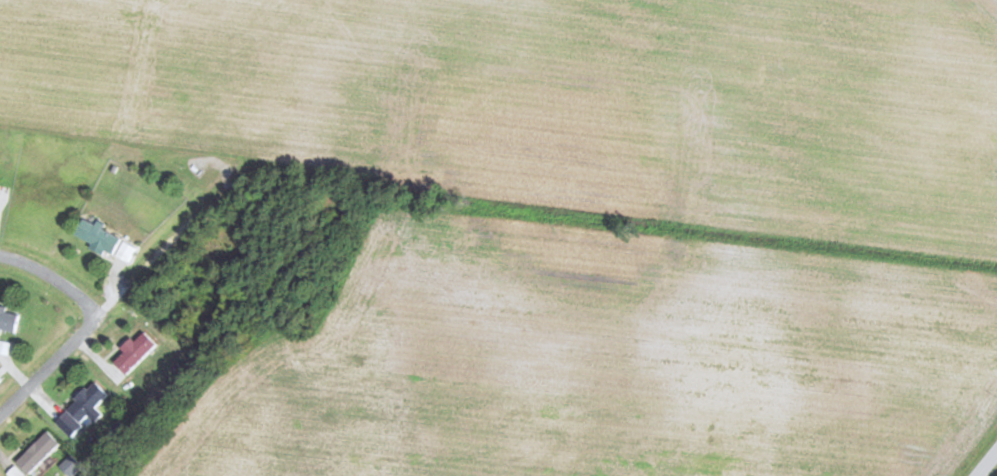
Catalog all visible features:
road: (156, 52)
road: (182, 231)
building: (106, 240)
road: (54, 274)
building: (9, 320)
building: (136, 351)
building: (90, 404)
building: (39, 452)
road: (990, 466)

